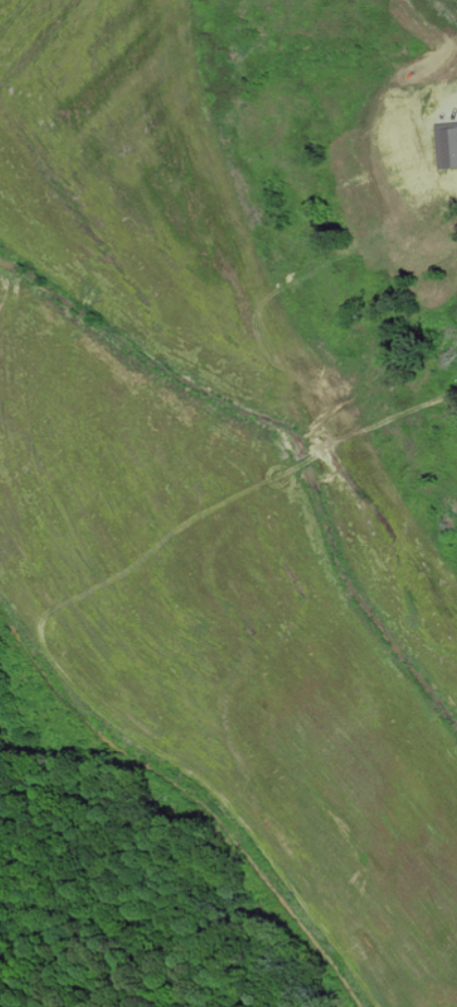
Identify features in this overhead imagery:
building: (448, 144)

